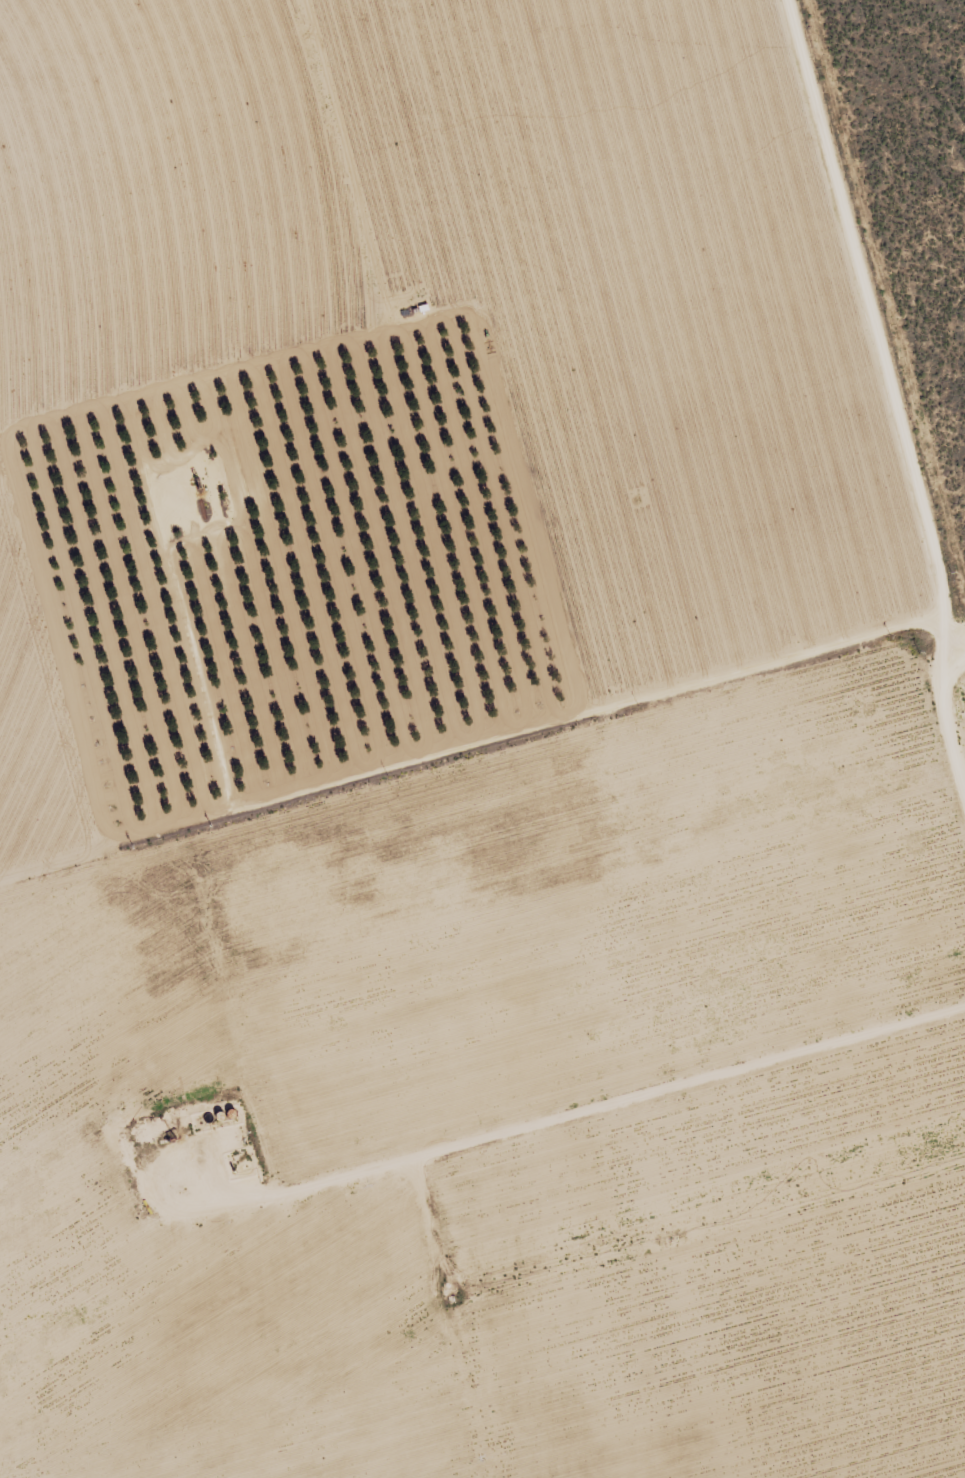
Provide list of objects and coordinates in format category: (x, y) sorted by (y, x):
road: (846, 349)
road: (956, 693)
road: (951, 767)

